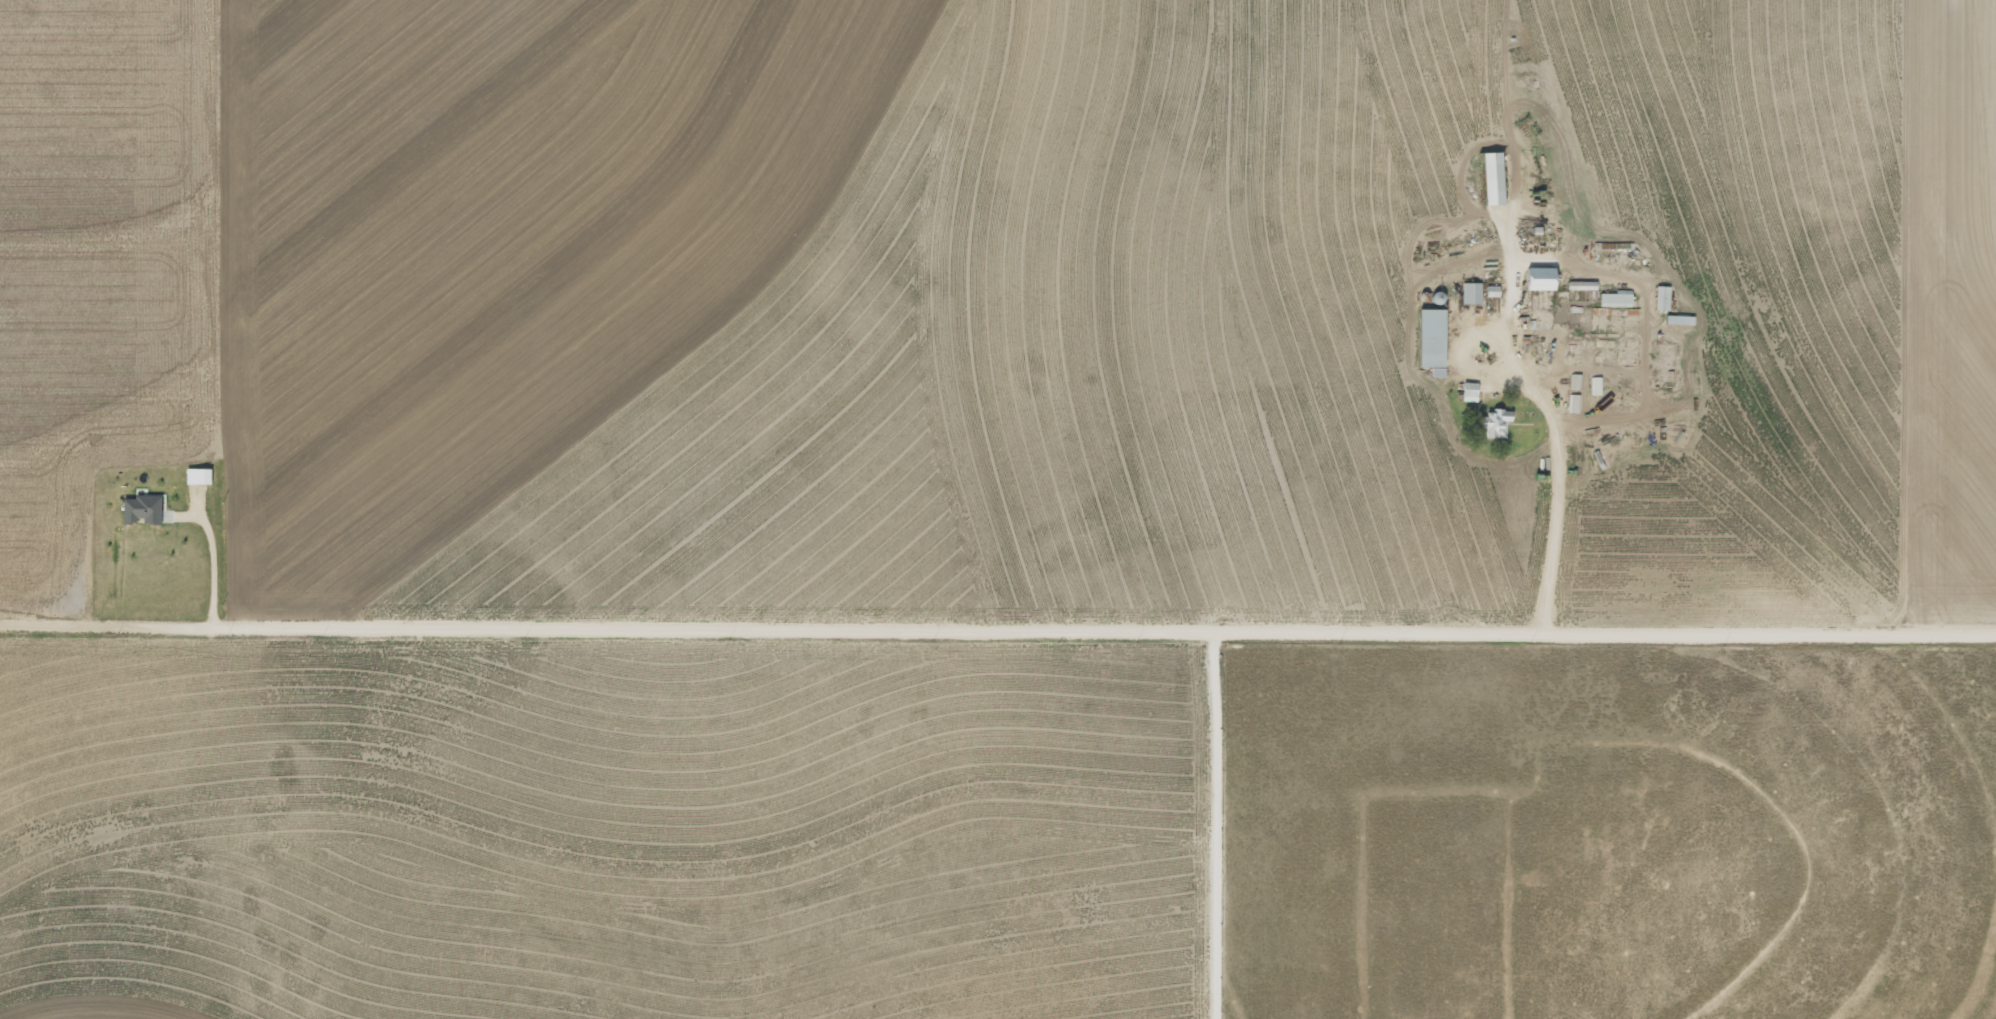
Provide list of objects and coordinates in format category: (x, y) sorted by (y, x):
building: (1544, 278)
building: (1494, 290)
building: (1474, 293)
building: (1665, 298)
building: (1618, 299)
road: (1528, 317)
building: (1436, 341)
building: (1473, 391)
building: (1500, 422)
building: (201, 475)
building: (145, 508)
road: (998, 625)
road: (1242, 823)

